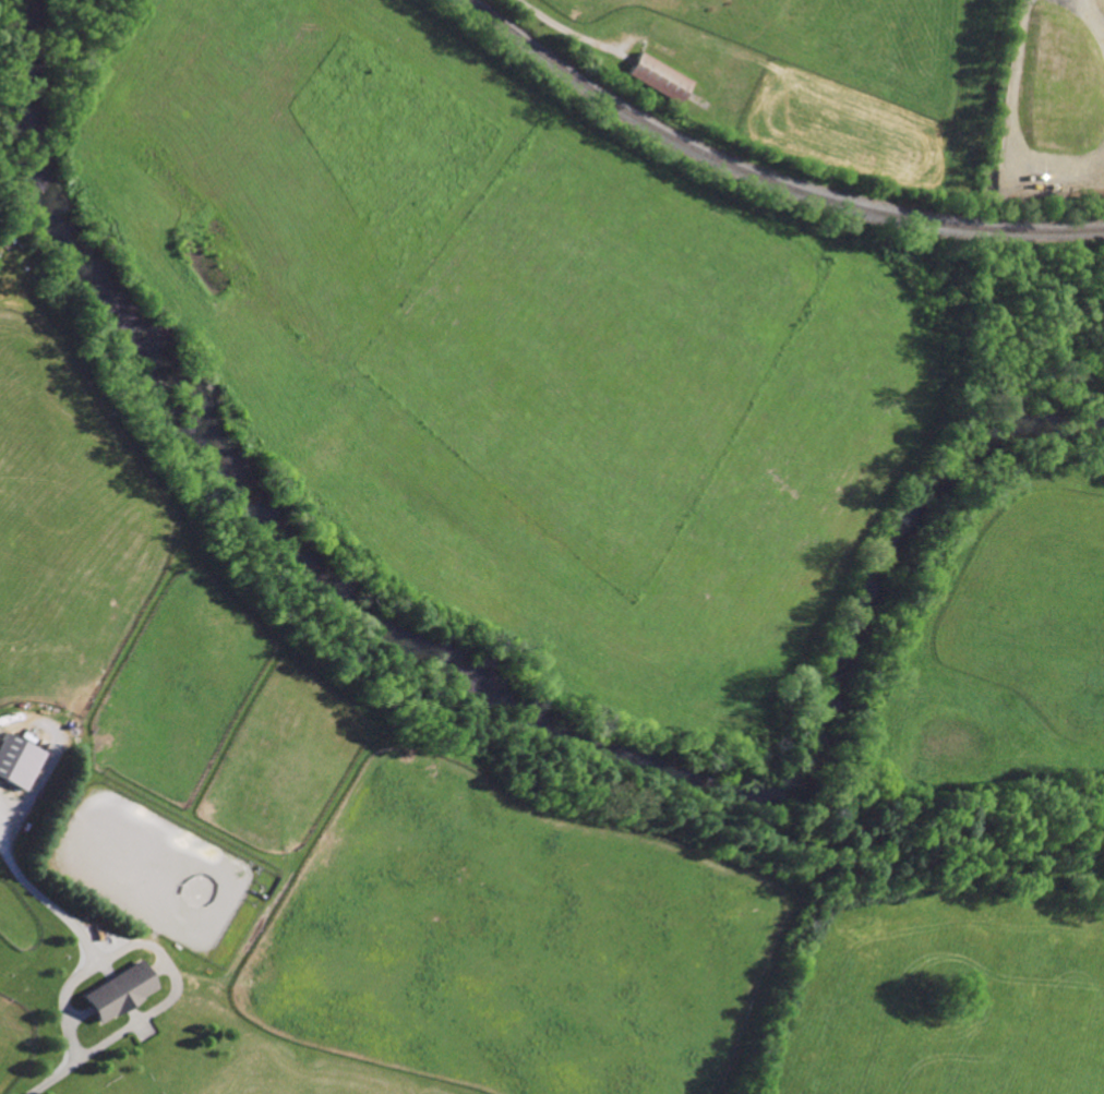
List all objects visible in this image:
road: (567, 33)
building: (660, 76)
railway: (765, 179)
building: (20, 759)
building: (68, 955)
road: (155, 958)
building: (121, 990)
road: (63, 1005)

